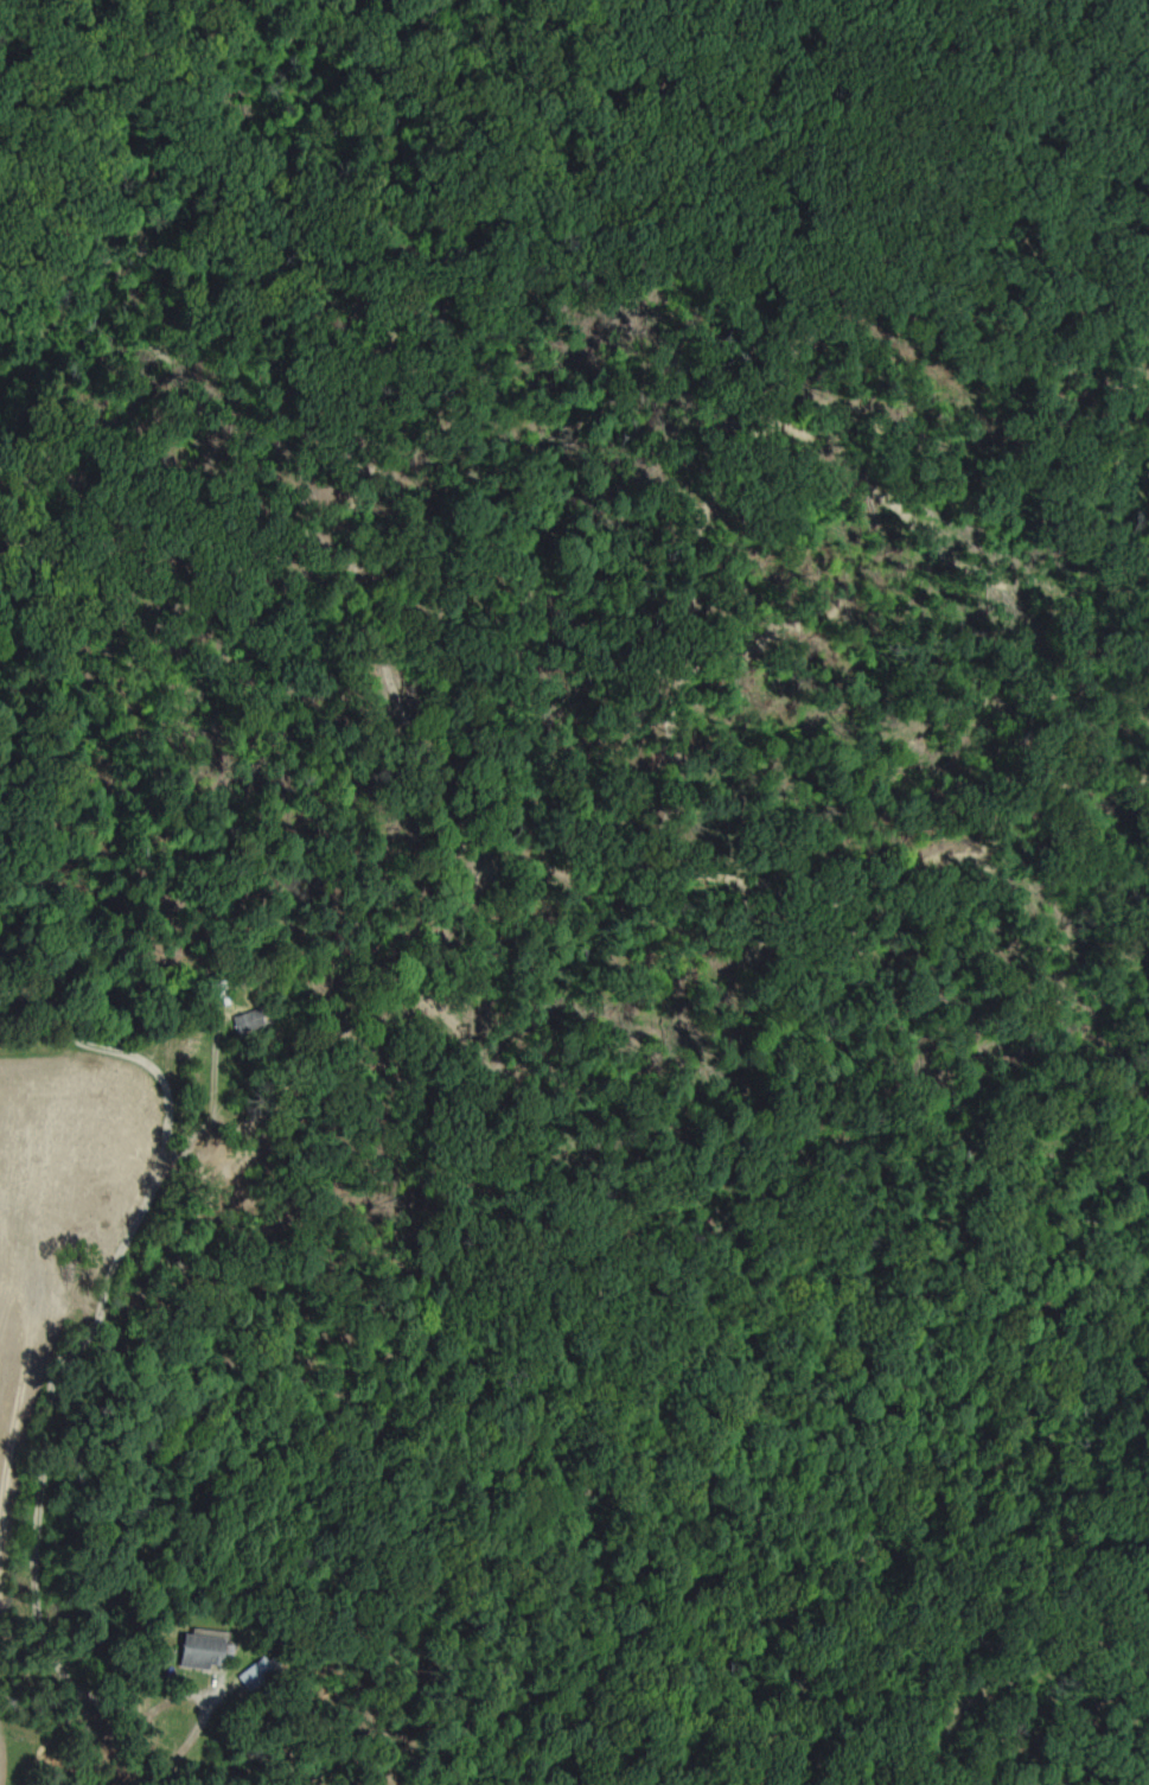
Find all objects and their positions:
building: (243, 1020)
building: (194, 1649)
building: (249, 1672)

